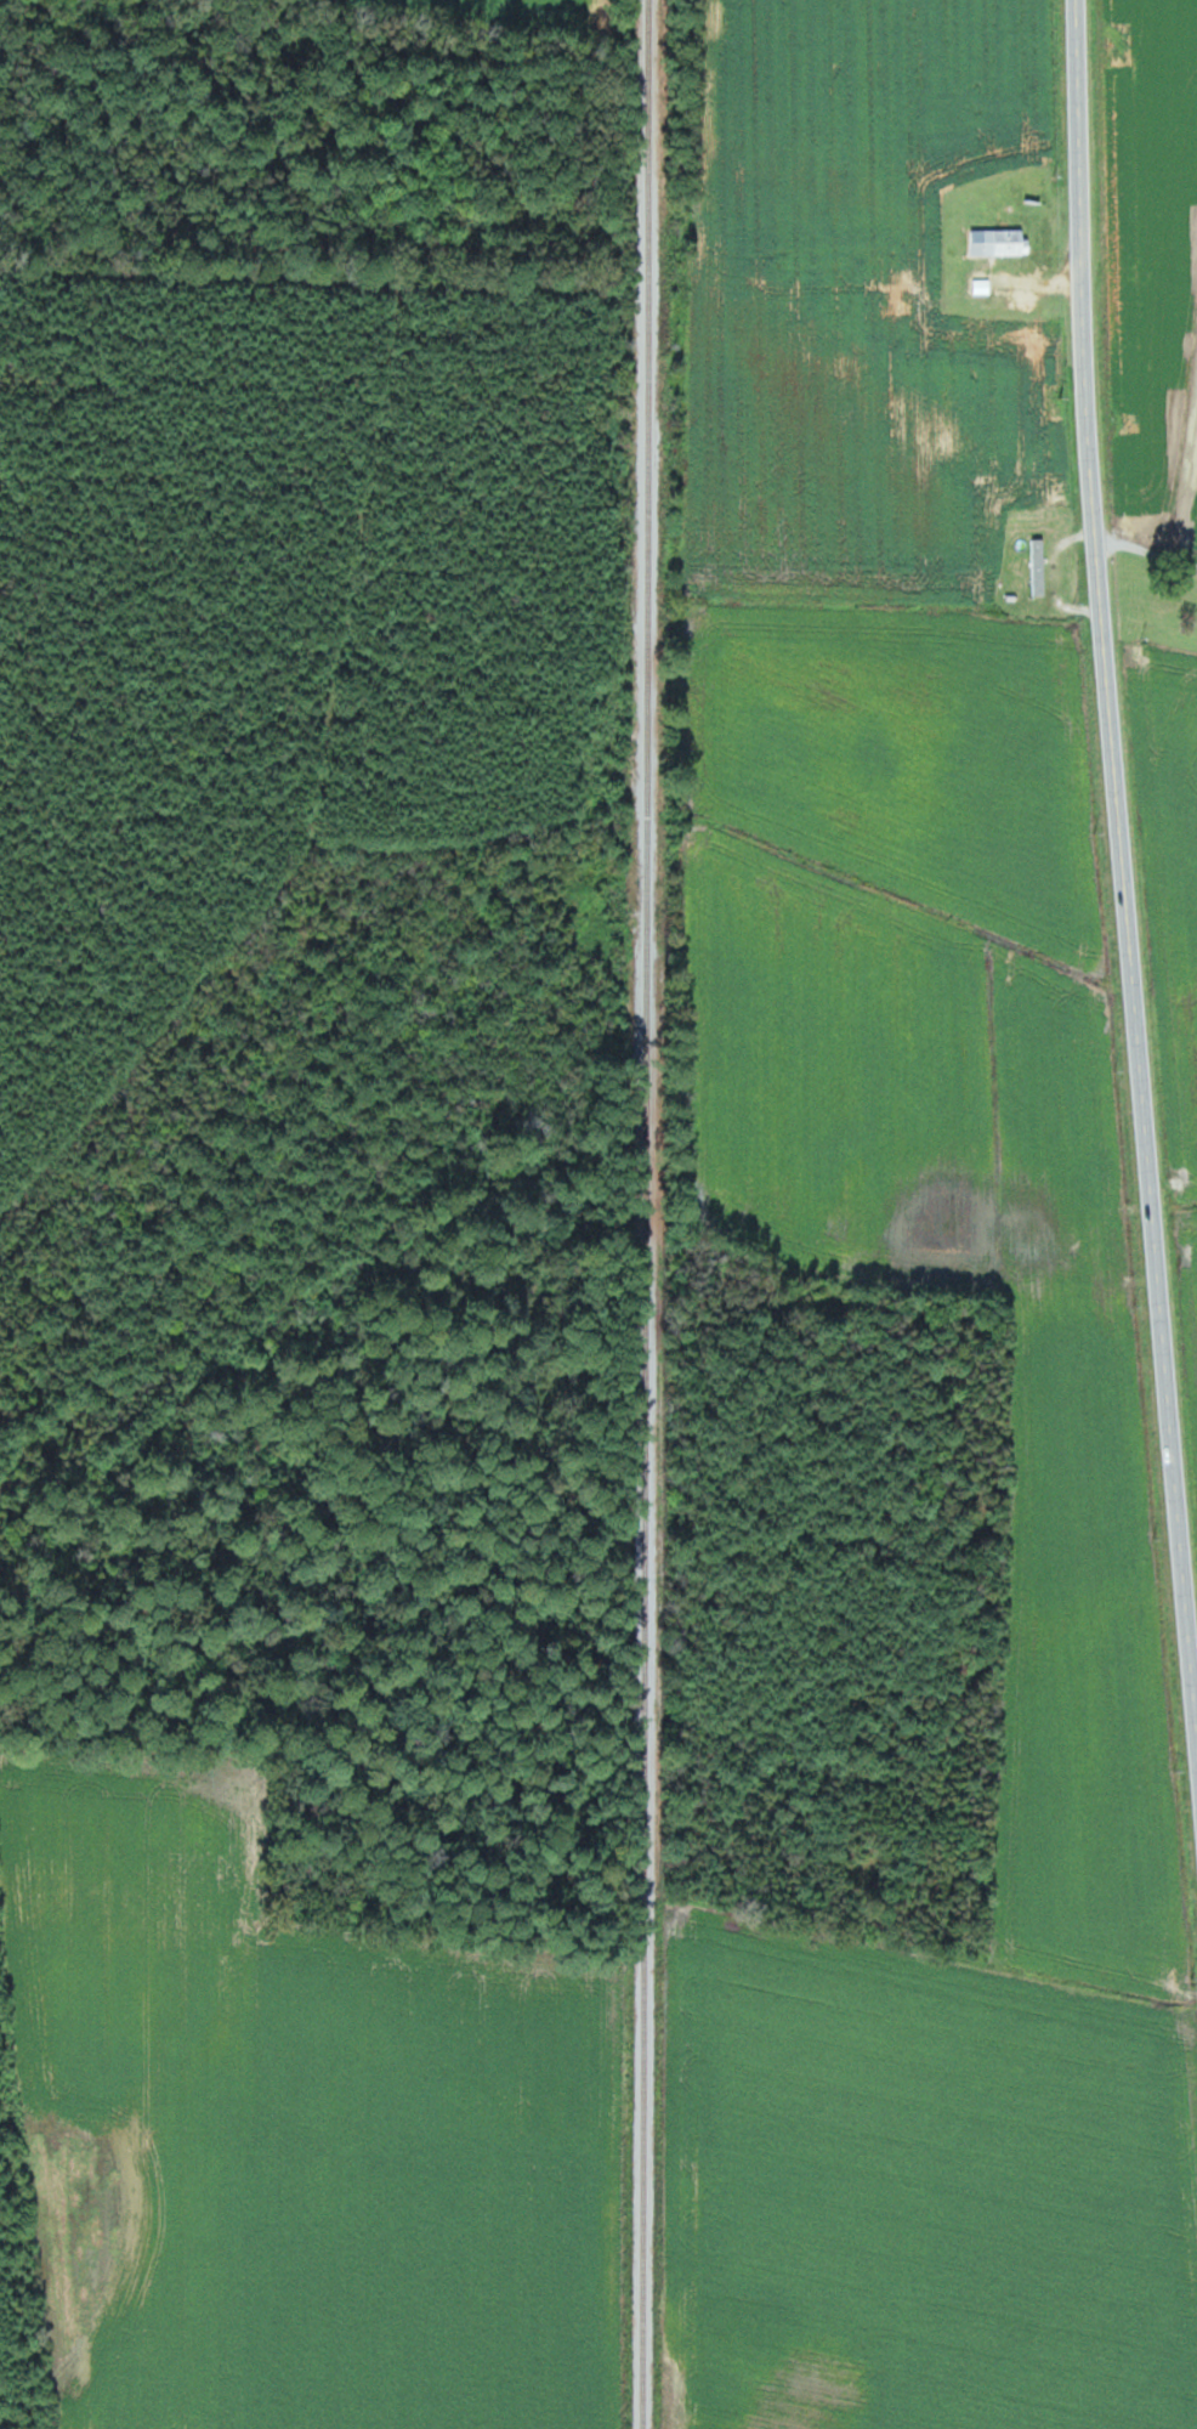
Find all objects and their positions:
building: (1002, 242)
road: (1145, 550)
building: (1039, 567)
road: (1121, 873)
railway: (643, 1213)

